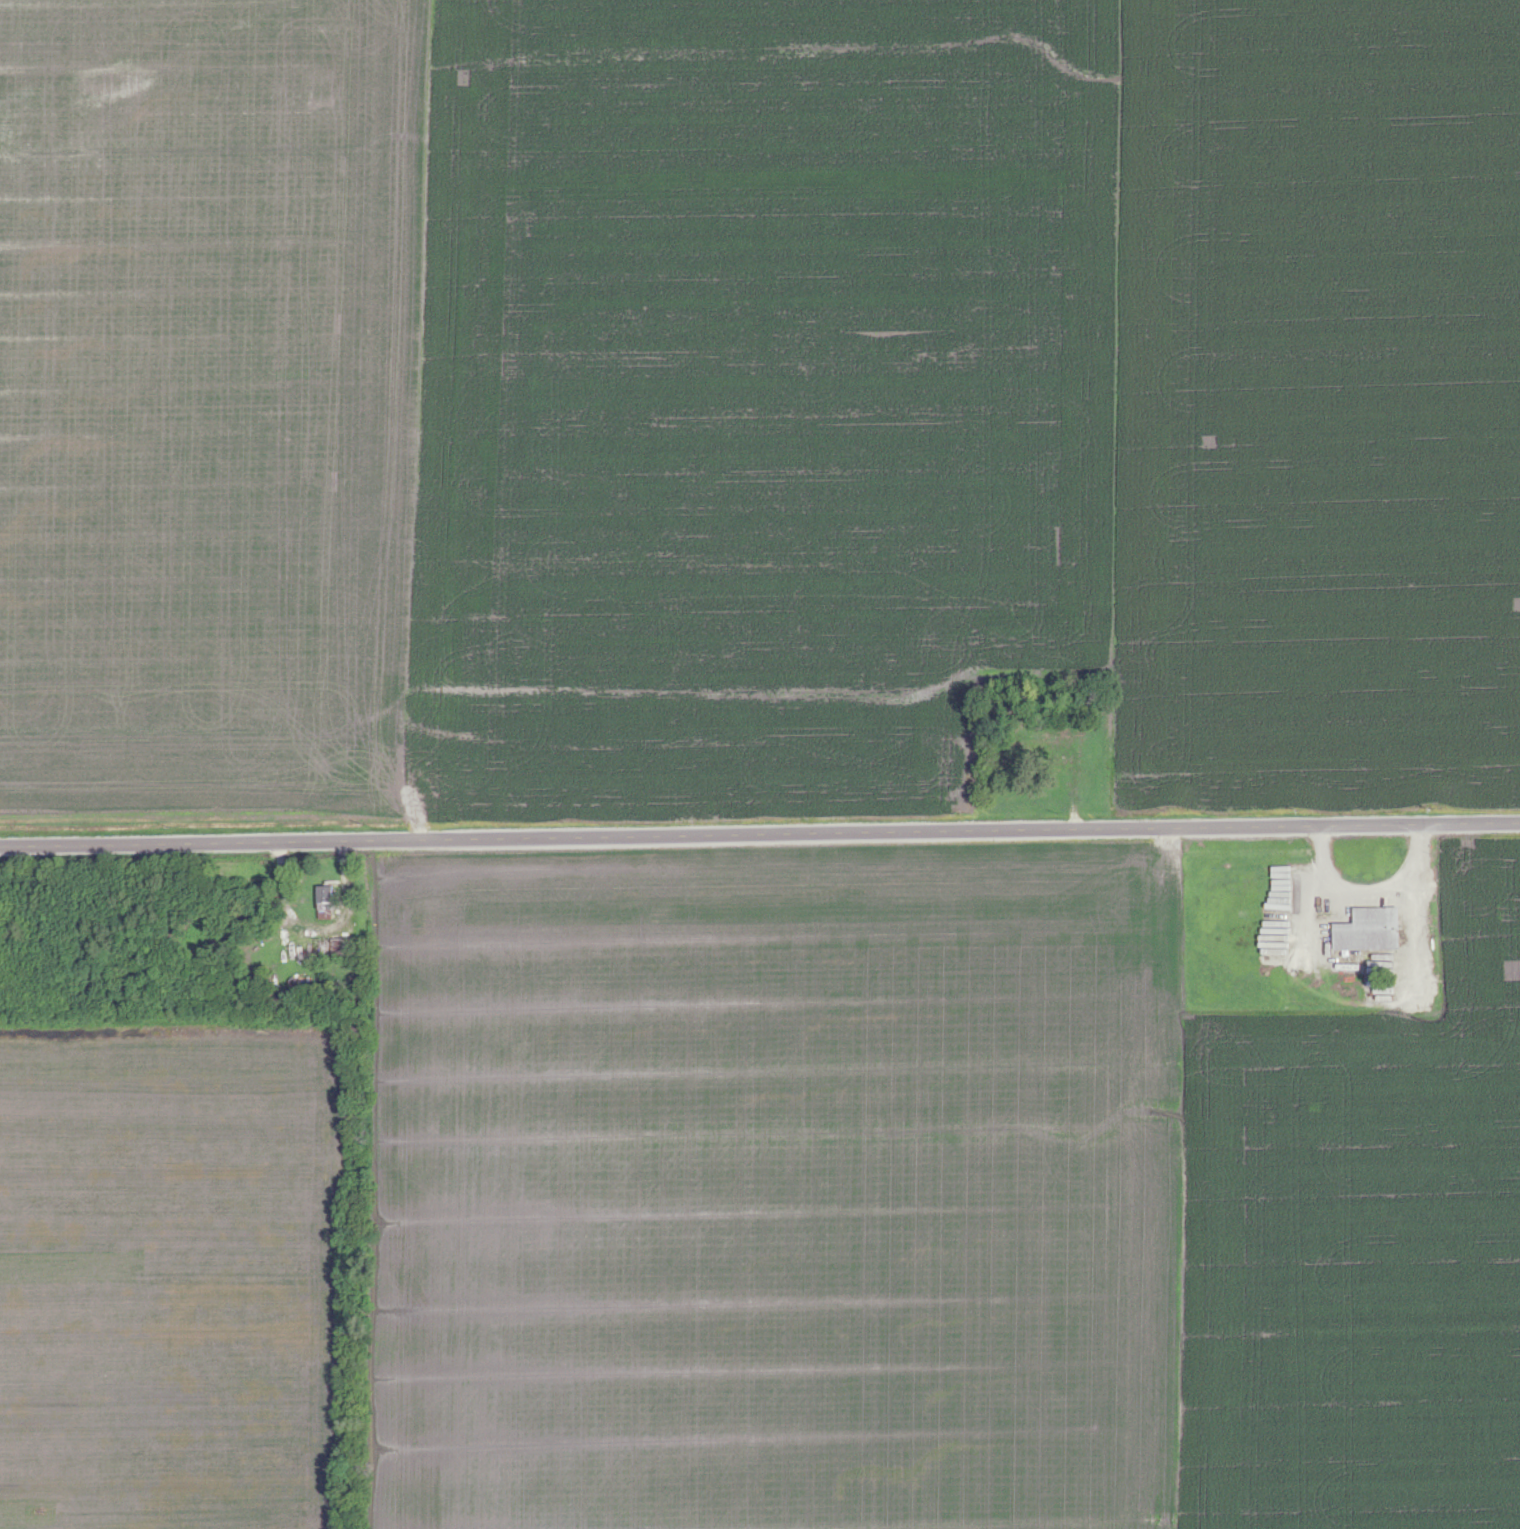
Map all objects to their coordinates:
road: (759, 833)
road: (1346, 888)
building: (323, 900)
road: (1415, 907)
building: (1366, 928)

